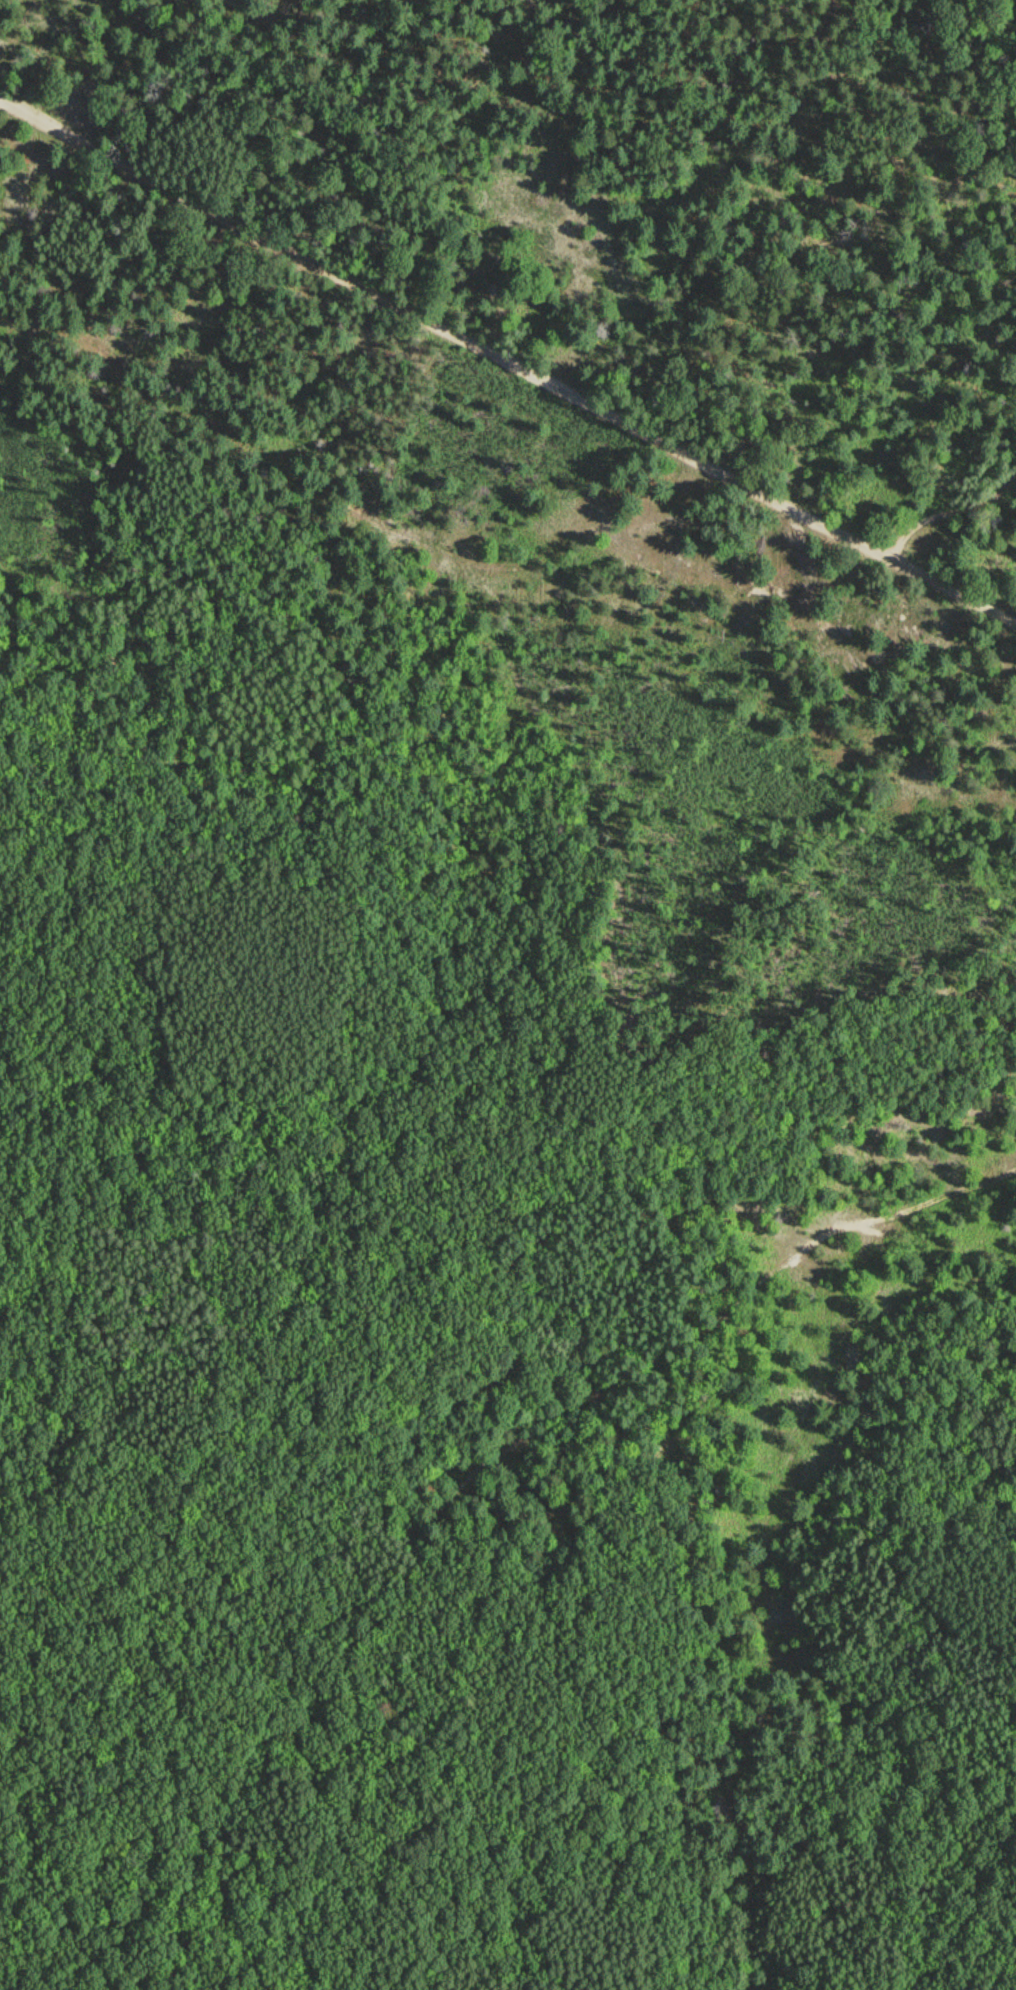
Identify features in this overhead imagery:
road: (936, 98)
road: (507, 359)
road: (951, 510)
road: (550, 1342)
road: (524, 1439)
road: (769, 1593)

